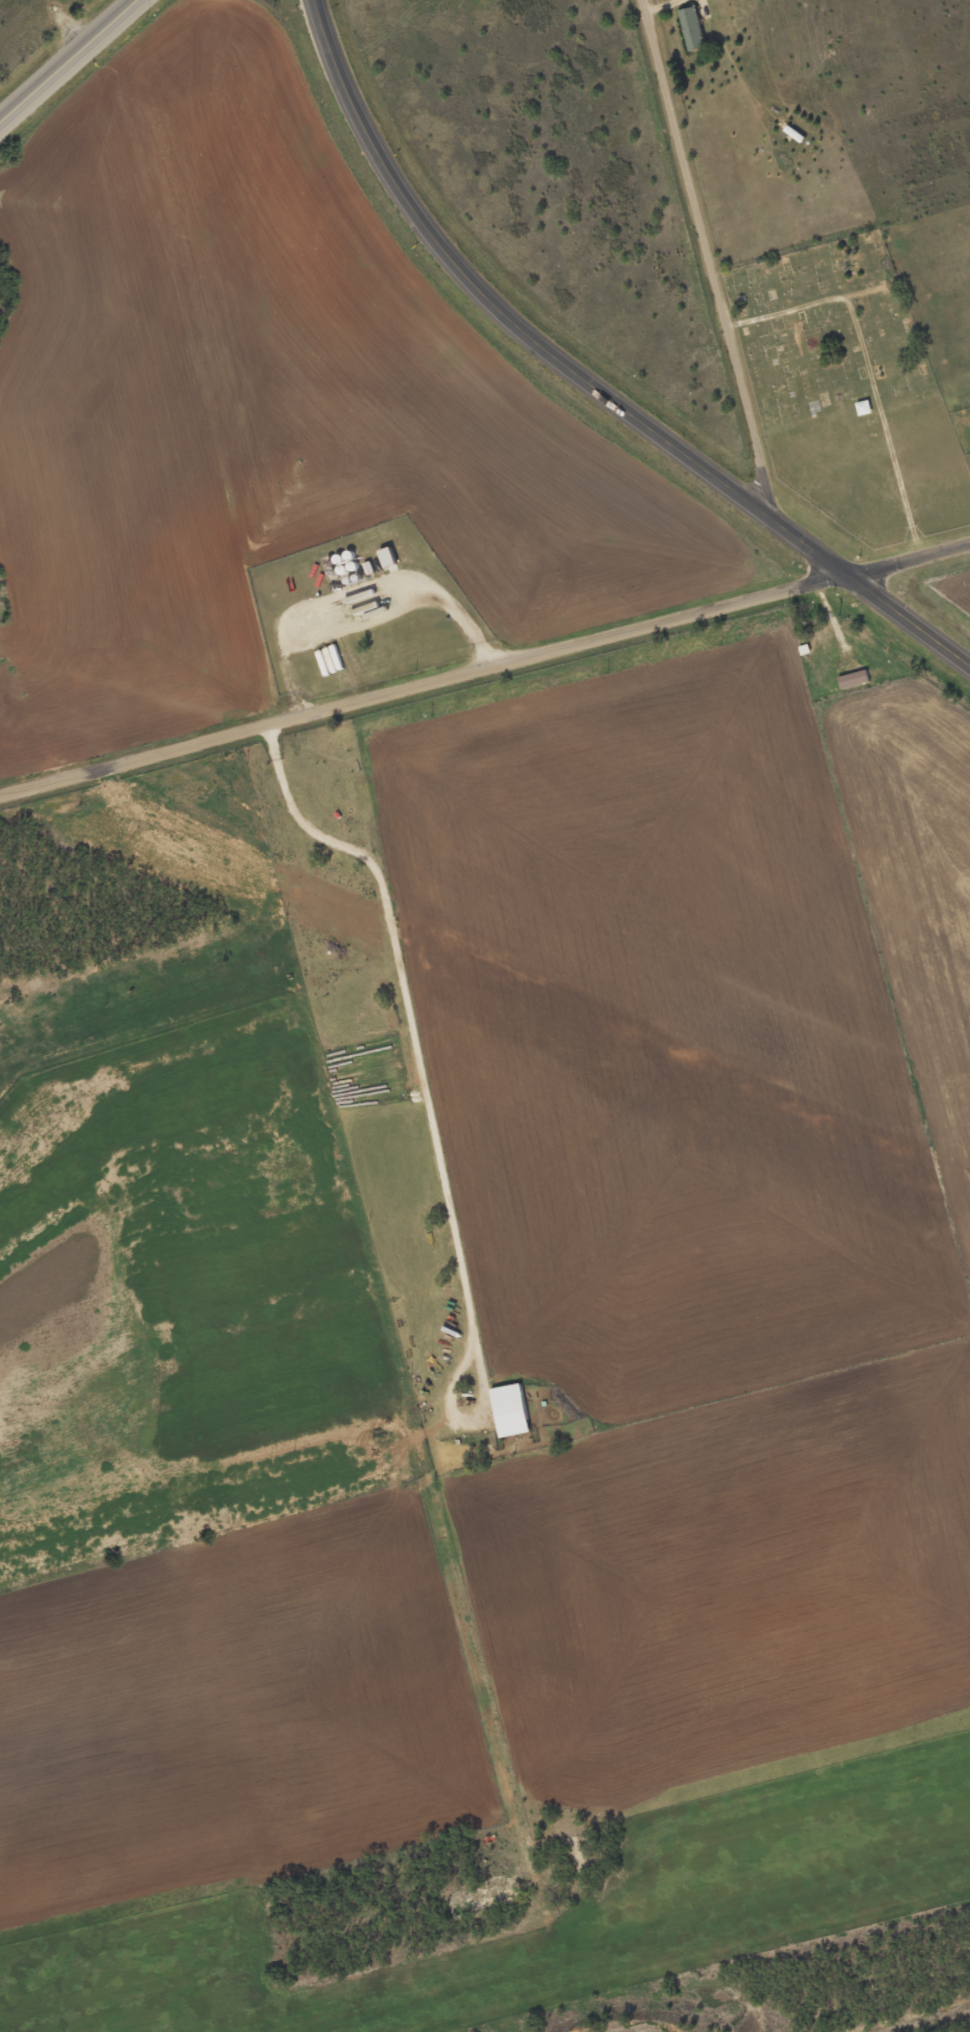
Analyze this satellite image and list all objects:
building: (693, 29)
road: (65, 58)
road: (704, 252)
road: (866, 367)
road: (588, 376)
park: (848, 391)
building: (864, 408)
silo: (350, 555)
building: (388, 557)
silo: (339, 559)
silo: (330, 562)
silo: (353, 565)
building: (369, 568)
silo: (342, 570)
silo: (333, 572)
silo: (358, 577)
silo: (349, 580)
road: (410, 593)
road: (485, 671)
building: (854, 679)
road: (426, 1099)
building: (511, 1410)

